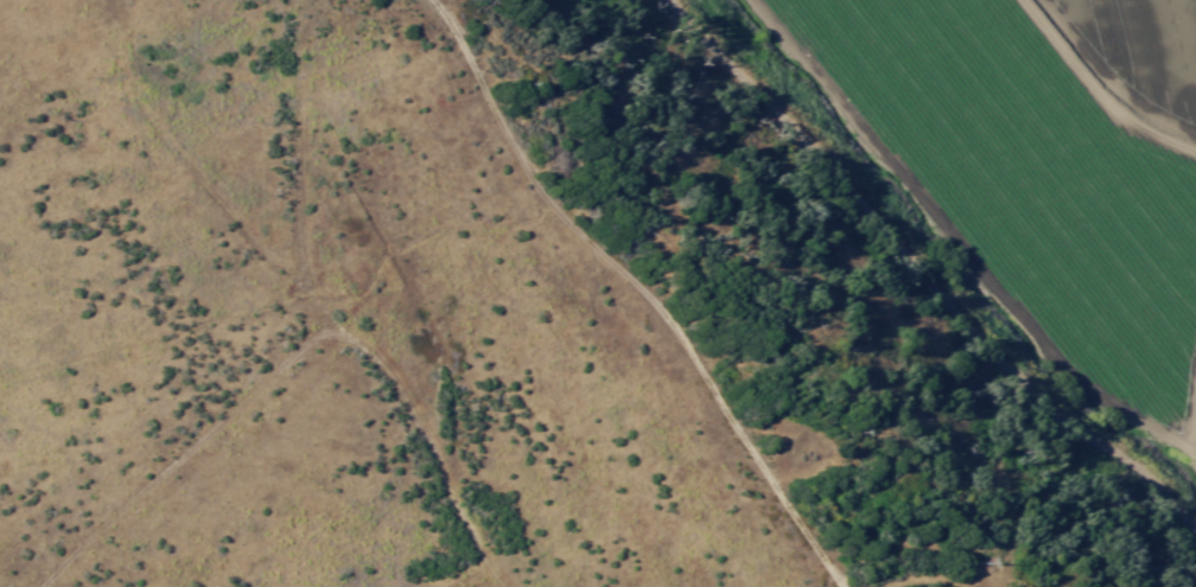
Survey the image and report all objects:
crop: (1041, 166)

